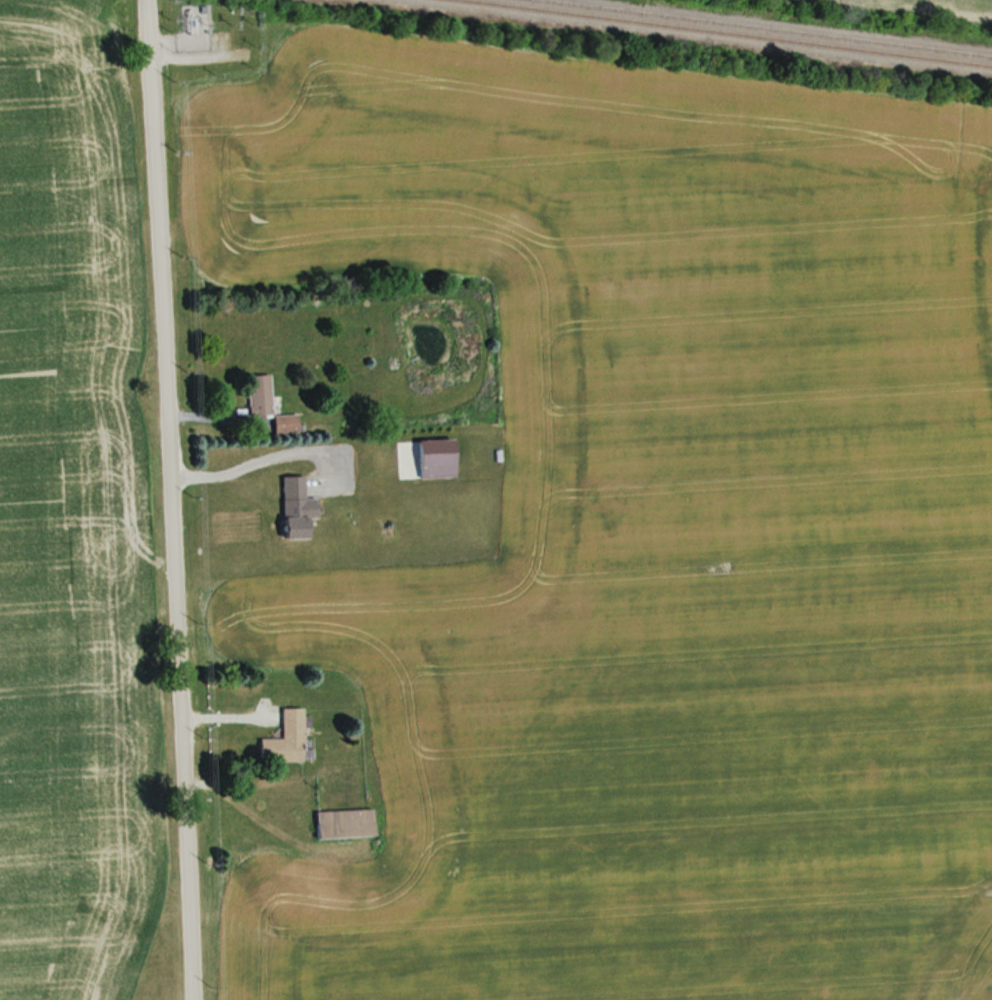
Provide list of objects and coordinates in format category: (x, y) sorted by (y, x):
railway: (767, 28)
railway: (726, 33)
building: (258, 394)
building: (285, 423)
road: (167, 499)
building: (295, 508)
building: (284, 739)
building: (343, 823)
building: (300, 892)

